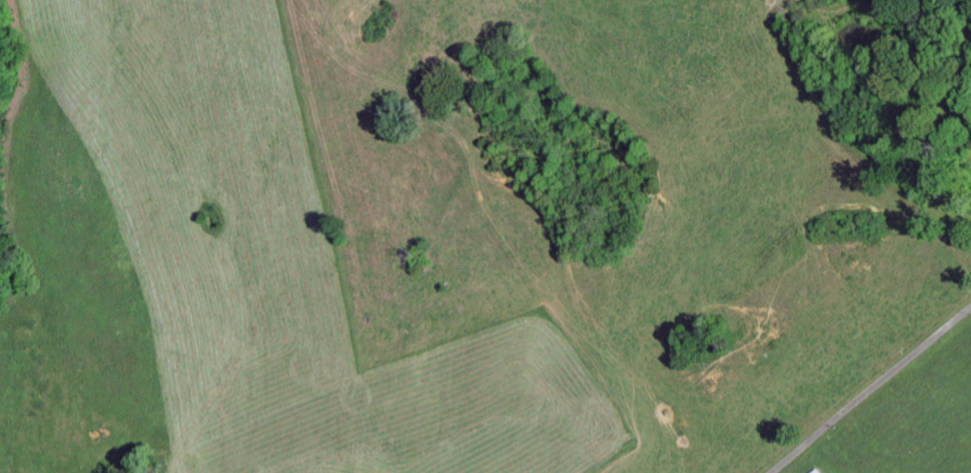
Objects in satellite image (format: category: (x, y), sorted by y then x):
road: (872, 390)

